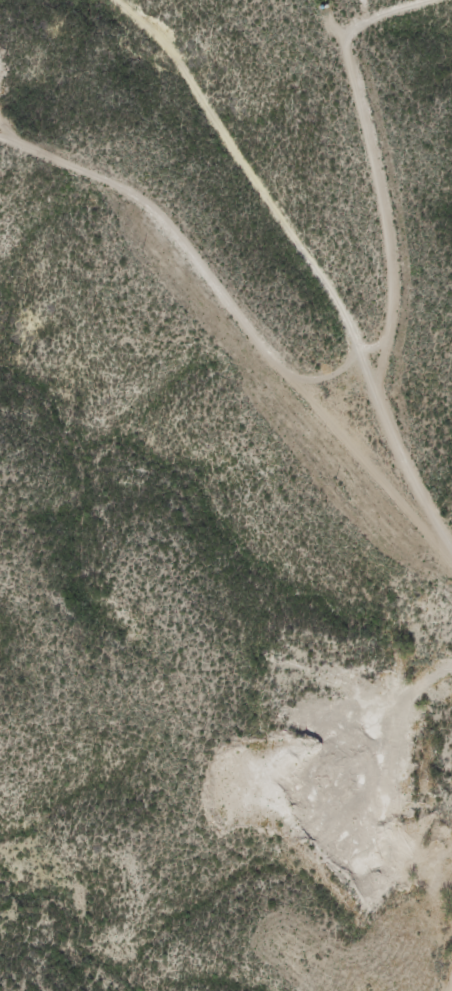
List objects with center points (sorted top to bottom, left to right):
road: (312, 262)
road: (228, 299)
road: (335, 380)

